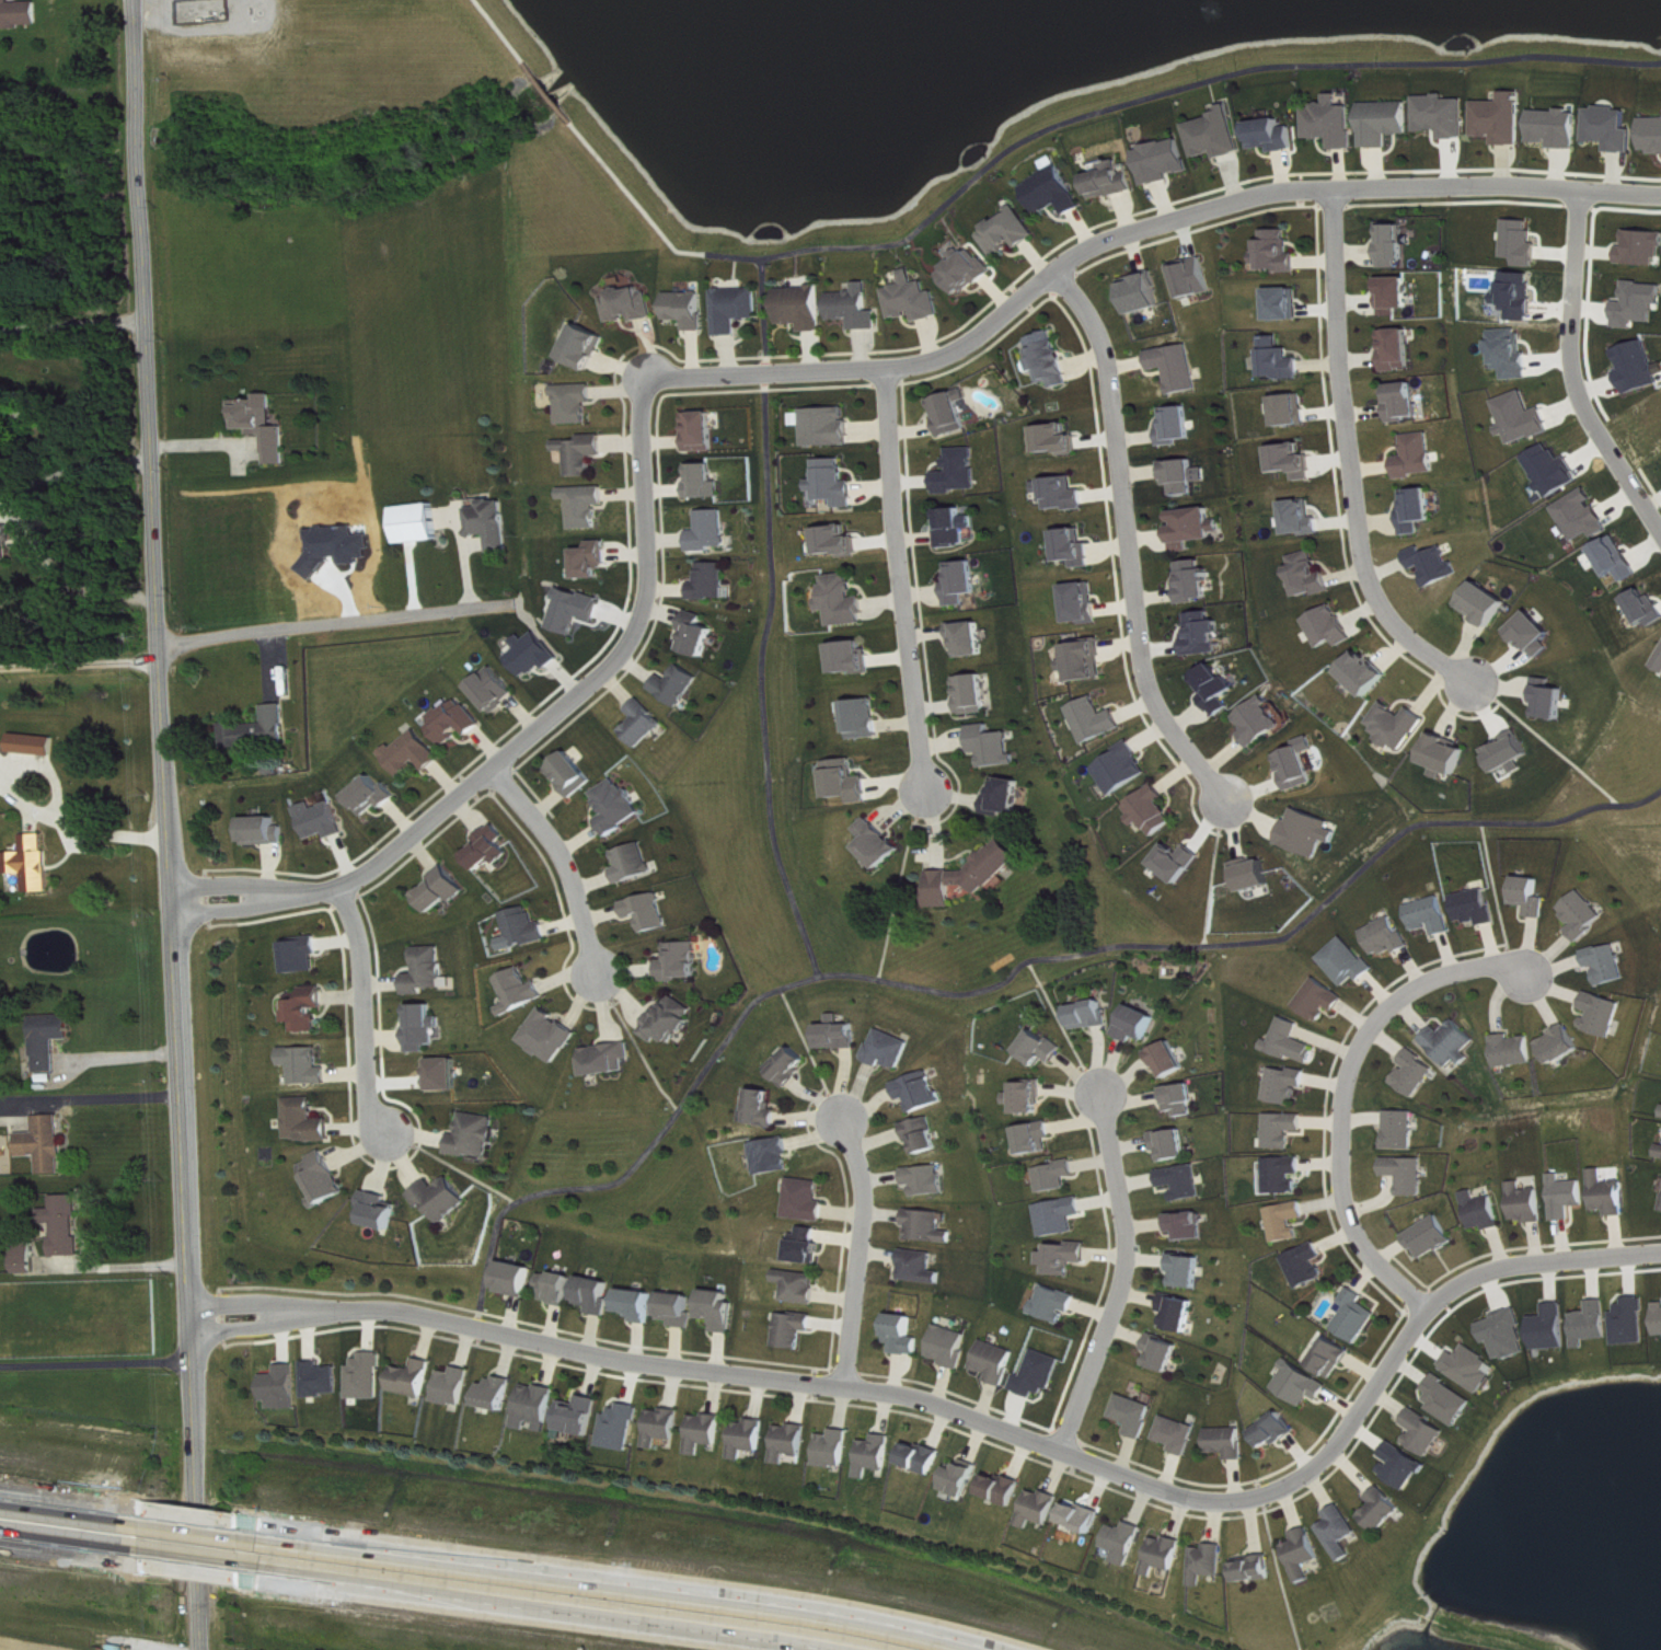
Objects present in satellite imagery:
building: (19, 13)
road: (501, 30)
road: (551, 90)
building: (1446, 115)
road: (1069, 118)
building: (1506, 118)
building: (1337, 123)
building: (1389, 123)
building: (1560, 128)
building: (1615, 128)
building: (1220, 135)
building: (1278, 135)
building: (1654, 135)
building: (1167, 161)
building: (1116, 181)
building: (1058, 192)
building: (1012, 232)
building: (1525, 242)
building: (1396, 244)
building: (1643, 247)
building: (970, 272)
building: (1197, 277)
building: (1146, 293)
building: (1399, 295)
building: (1522, 295)
building: (918, 299)
building: (634, 304)
building: (1288, 304)
building: (1640, 304)
building: (740, 308)
building: (806, 308)
building: (860, 308)
building: (692, 309)
road: (766, 313)
road: (72, 321)
building: (590, 346)
building: (1400, 349)
building: (1513, 353)
building: (1052, 359)
building: (1283, 360)
building: (1180, 367)
building: (1640, 367)
road: (772, 370)
road: (1571, 371)
building: (1407, 401)
building: (579, 403)
building: (1294, 409)
building: (956, 412)
building: (1523, 418)
building: (264, 425)
building: (1179, 425)
building: (831, 427)
building: (704, 431)
road: (71, 437)
building: (1060, 439)
building: (587, 453)
road: (1351, 454)
building: (1419, 455)
building: (1295, 461)
building: (964, 472)
building: (1185, 476)
building: (707, 481)
building: (837, 483)
building: (1065, 493)
building: (589, 506)
building: (1420, 510)
building: (1584, 516)
building: (1304, 519)
road: (27, 521)
building: (420, 523)
building: (495, 523)
building: (959, 527)
building: (1197, 527)
building: (713, 531)
road: (1127, 539)
building: (840, 541)
building: (7, 542)
building: (1077, 547)
building: (1617, 558)
building: (596, 559)
building: (1437, 564)
building: (1312, 575)
road: (907, 579)
building: (1197, 580)
building: (714, 581)
building: (966, 582)
building: (846, 601)
building: (1085, 603)
building: (1488, 603)
building: (1647, 608)
building: (578, 610)
road: (336, 623)
building: (1331, 626)
building: (1207, 634)
building: (699, 635)
building: (1536, 635)
building: (973, 638)
building: (537, 654)
building: (855, 657)
building: (1088, 660)
road: (80, 666)
building: (1660, 666)
building: (1366, 673)
road: (763, 676)
building: (679, 685)
building: (1221, 688)
building: (497, 689)
building: (977, 694)
building: (1552, 699)
building: (867, 718)
building: (1098, 719)
building: (1265, 722)
building: (458, 723)
building: (645, 724)
building: (1399, 725)
building: (262, 729)
road: (1544, 738)
building: (36, 745)
building: (996, 746)
building: (1, 747)
building: (415, 753)
building: (1510, 753)
building: (1447, 755)
building: (1302, 764)
building: (1126, 769)
building: (574, 774)
building: (851, 781)
building: (376, 795)
building: (1010, 795)
building: (619, 806)
building: (1154, 810)
building: (323, 820)
road: (168, 824)
building: (266, 831)
building: (1312, 832)
building: (880, 843)
building: (491, 847)
road: (563, 856)
building: (1180, 862)
building: (33, 863)
building: (636, 863)
road: (1214, 873)
building: (1257, 874)
building: (974, 875)
road: (900, 882)
building: (443, 890)
road: (1498, 892)
building: (1534, 896)
building: (1478, 907)
building: (650, 912)
building: (1585, 914)
building: (1434, 915)
building: (524, 928)
building: (1391, 936)
building: (305, 954)
building: (683, 961)
building: (1350, 961)
building: (1611, 964)
building: (428, 970)
road: (1000, 981)
building: (521, 991)
building: (1324, 1000)
road: (364, 1007)
building: (309, 1008)
building: (1605, 1014)
building: (1092, 1015)
building: (671, 1020)
road: (1061, 1023)
building: (1140, 1024)
building: (425, 1027)
building: (841, 1035)
building: (551, 1036)
building: (50, 1040)
road: (634, 1040)
building: (1294, 1042)
building: (1454, 1043)
building: (1564, 1045)
building: (891, 1049)
building: (1042, 1049)
building: (1516, 1050)
road: (811, 1052)
road: (122, 1057)
building: (609, 1059)
building: (1172, 1059)
building: (308, 1065)
building: (793, 1065)
building: (1418, 1073)
building: (446, 1074)
building: (1289, 1085)
road: (1346, 1088)
building: (922, 1092)
building: (1029, 1096)
road: (111, 1099)
building: (1184, 1099)
building: (0, 1109)
building: (764, 1109)
building: (308, 1121)
building: (1285, 1130)
building: (1404, 1130)
building: (925, 1134)
building: (475, 1136)
building: (1038, 1138)
building: (46, 1144)
building: (1175, 1144)
building: (774, 1155)
building: (1660, 1155)
road: (449, 1163)
building: (1287, 1175)
building: (1410, 1175)
building: (1058, 1176)
building: (325, 1179)
building: (930, 1180)
building: (1186, 1181)
building: (1610, 1195)
building: (1568, 1197)
building: (443, 1198)
building: (808, 1200)
building: (1529, 1203)
building: (380, 1210)
building: (1486, 1211)
building: (1062, 1216)
building: (1290, 1221)
building: (66, 1225)
building: (1190, 1225)
building: (931, 1226)
building: (1432, 1237)
building: (808, 1245)
road: (862, 1249)
building: (27, 1258)
building: (1066, 1258)
building: (1310, 1265)
road: (116, 1267)
building: (922, 1267)
building: (1190, 1270)
road: (1124, 1271)
building: (518, 1279)
building: (800, 1286)
building: (558, 1288)
building: (598, 1294)
road: (250, 1299)
building: (639, 1304)
building: (1058, 1304)
building: (680, 1308)
building: (722, 1309)
building: (1181, 1313)
building: (1358, 1316)
building: (1659, 1318)
building: (1633, 1322)
building: (1593, 1324)
road: (252, 1325)
building: (1553, 1328)
building: (794, 1329)
building: (904, 1335)
building: (1508, 1335)
building: (951, 1347)
building: (1166, 1352)
building: (1335, 1358)
building: (997, 1361)
road: (95, 1364)
building: (1473, 1368)
building: (1040, 1374)
building: (369, 1376)
building: (415, 1378)
building: (323, 1380)
building: (1304, 1384)
building: (455, 1386)
building: (285, 1387)
building: (498, 1393)
building: (1450, 1400)
building: (538, 1407)
building: (1137, 1415)
building: (580, 1416)
building: (665, 1426)
building: (622, 1427)
building: (1278, 1431)
building: (706, 1432)
building: (1427, 1433)
building: (1179, 1434)
building: (750, 1438)
road: (1035, 1440)
building: (792, 1442)
building: (1230, 1442)
building: (835, 1449)
building: (877, 1455)
building: (924, 1458)
building: (1405, 1466)
building: (964, 1478)
building: (1004, 1489)
road: (65, 1507)
building: (1041, 1508)
building: (1384, 1510)
building: (1084, 1518)
road: (198, 1524)
building: (1342, 1532)
building: (1127, 1542)
road: (66, 1544)
building: (1306, 1554)
building: (1166, 1555)
building: (1210, 1562)
road: (200, 1564)
building: (1257, 1570)
road: (1280, 1571)
road: (634, 1581)
road: (546, 1611)
crop: (32, 1643)

